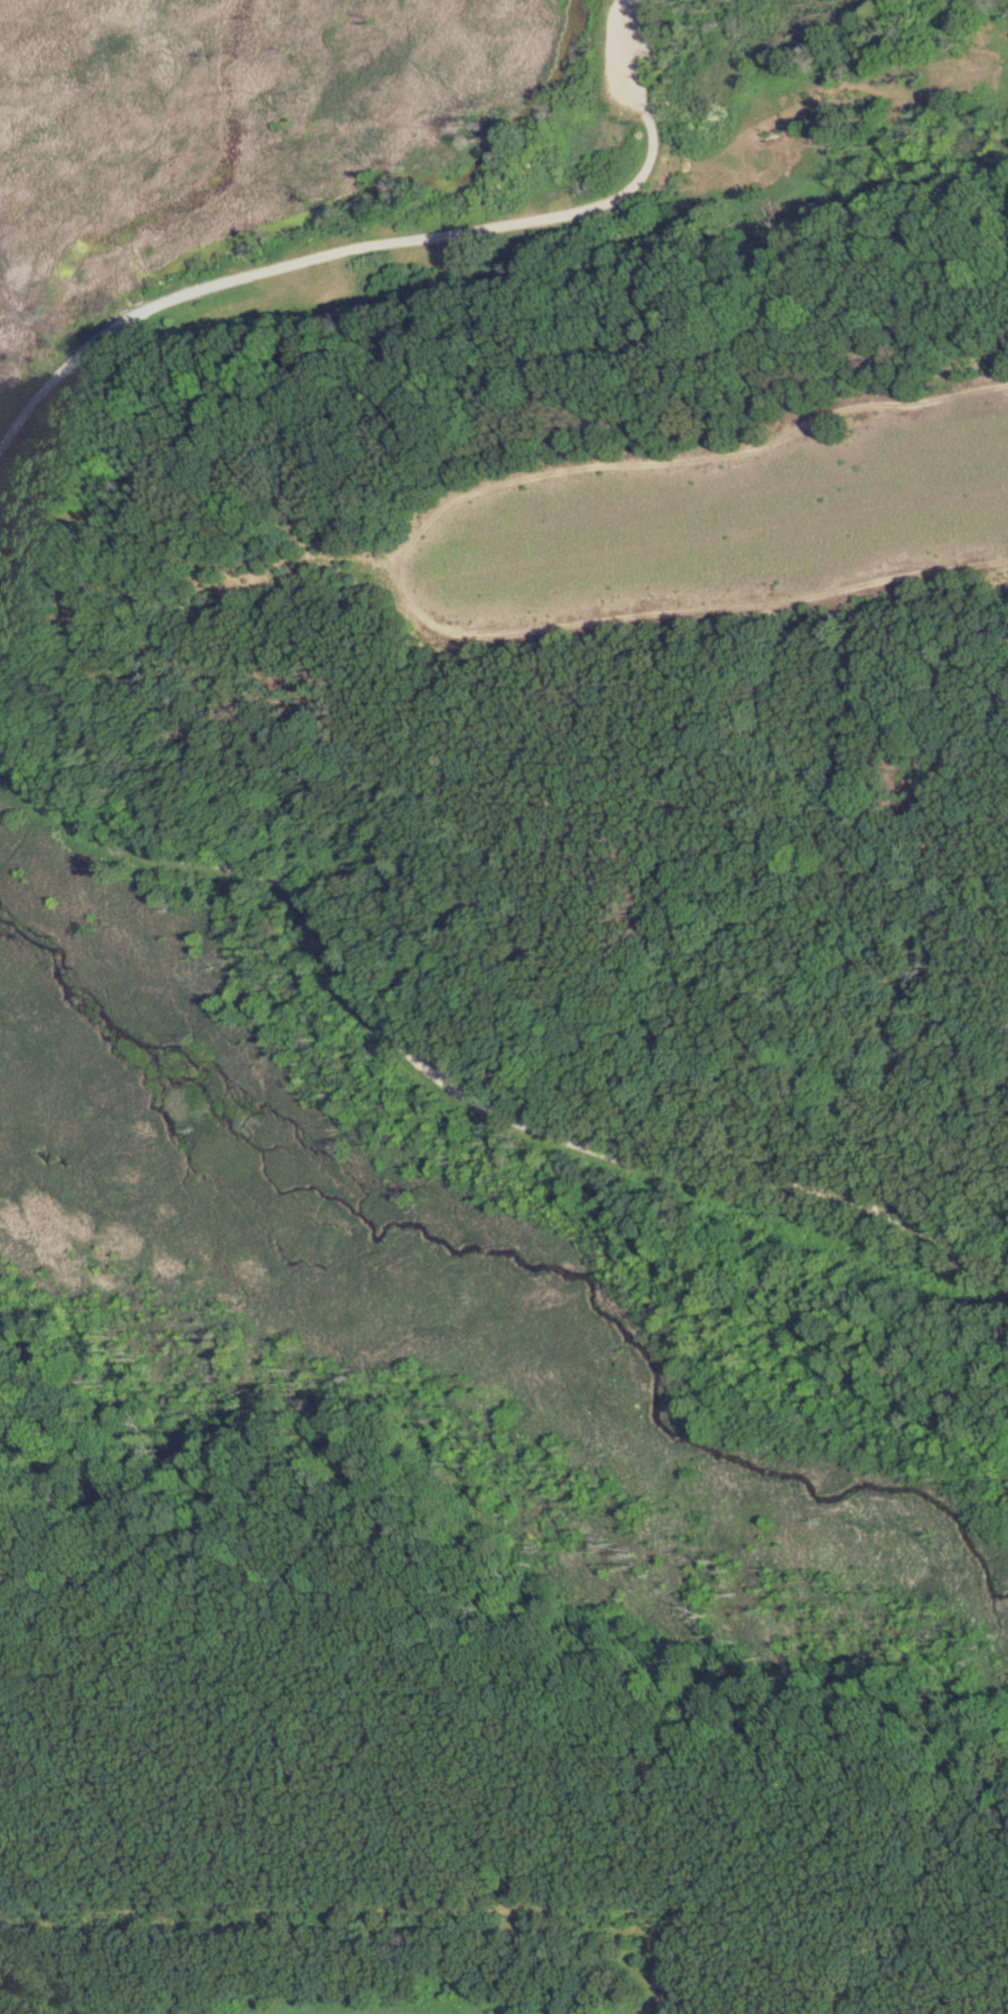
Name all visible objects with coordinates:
road: (646, 91)
road: (468, 236)
road: (465, 1068)
road: (390, 1912)

